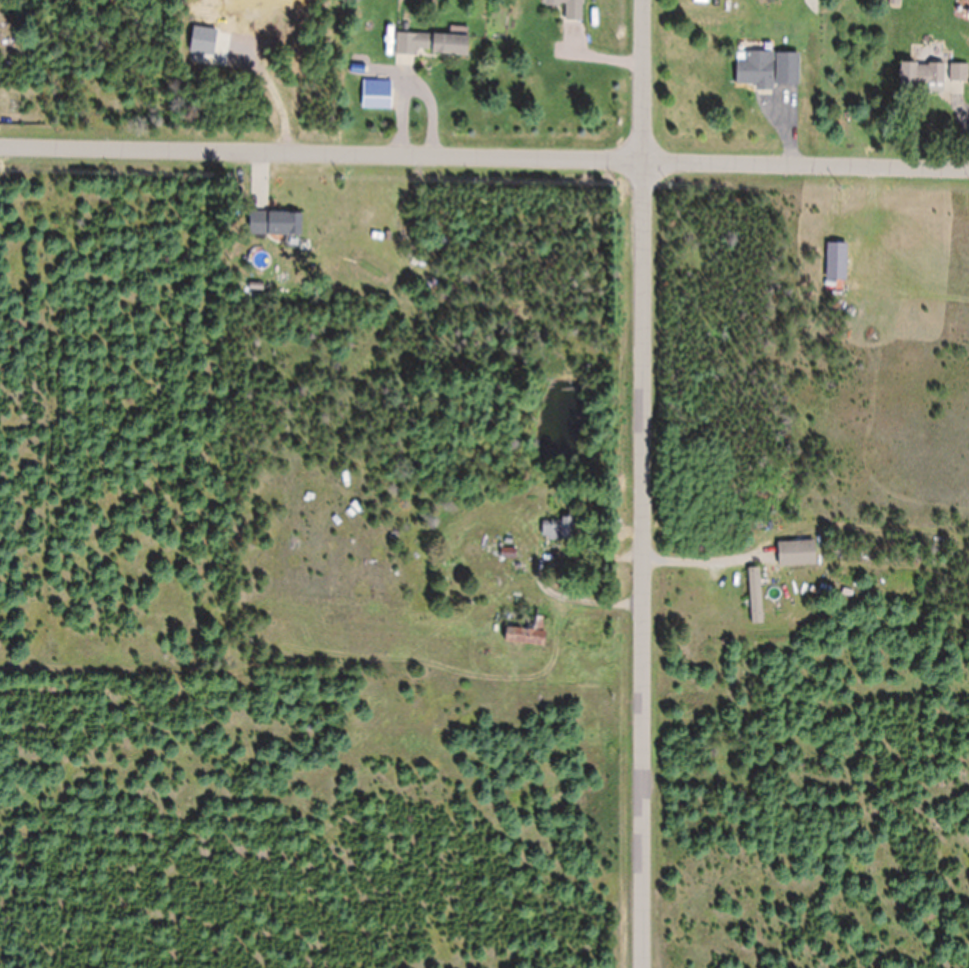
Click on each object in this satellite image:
building: (567, 8)
building: (430, 44)
building: (753, 69)
building: (786, 70)
building: (920, 73)
building: (958, 73)
building: (375, 94)
road: (484, 130)
building: (273, 225)
road: (637, 484)
building: (559, 530)
building: (795, 554)
building: (754, 597)
building: (526, 633)

